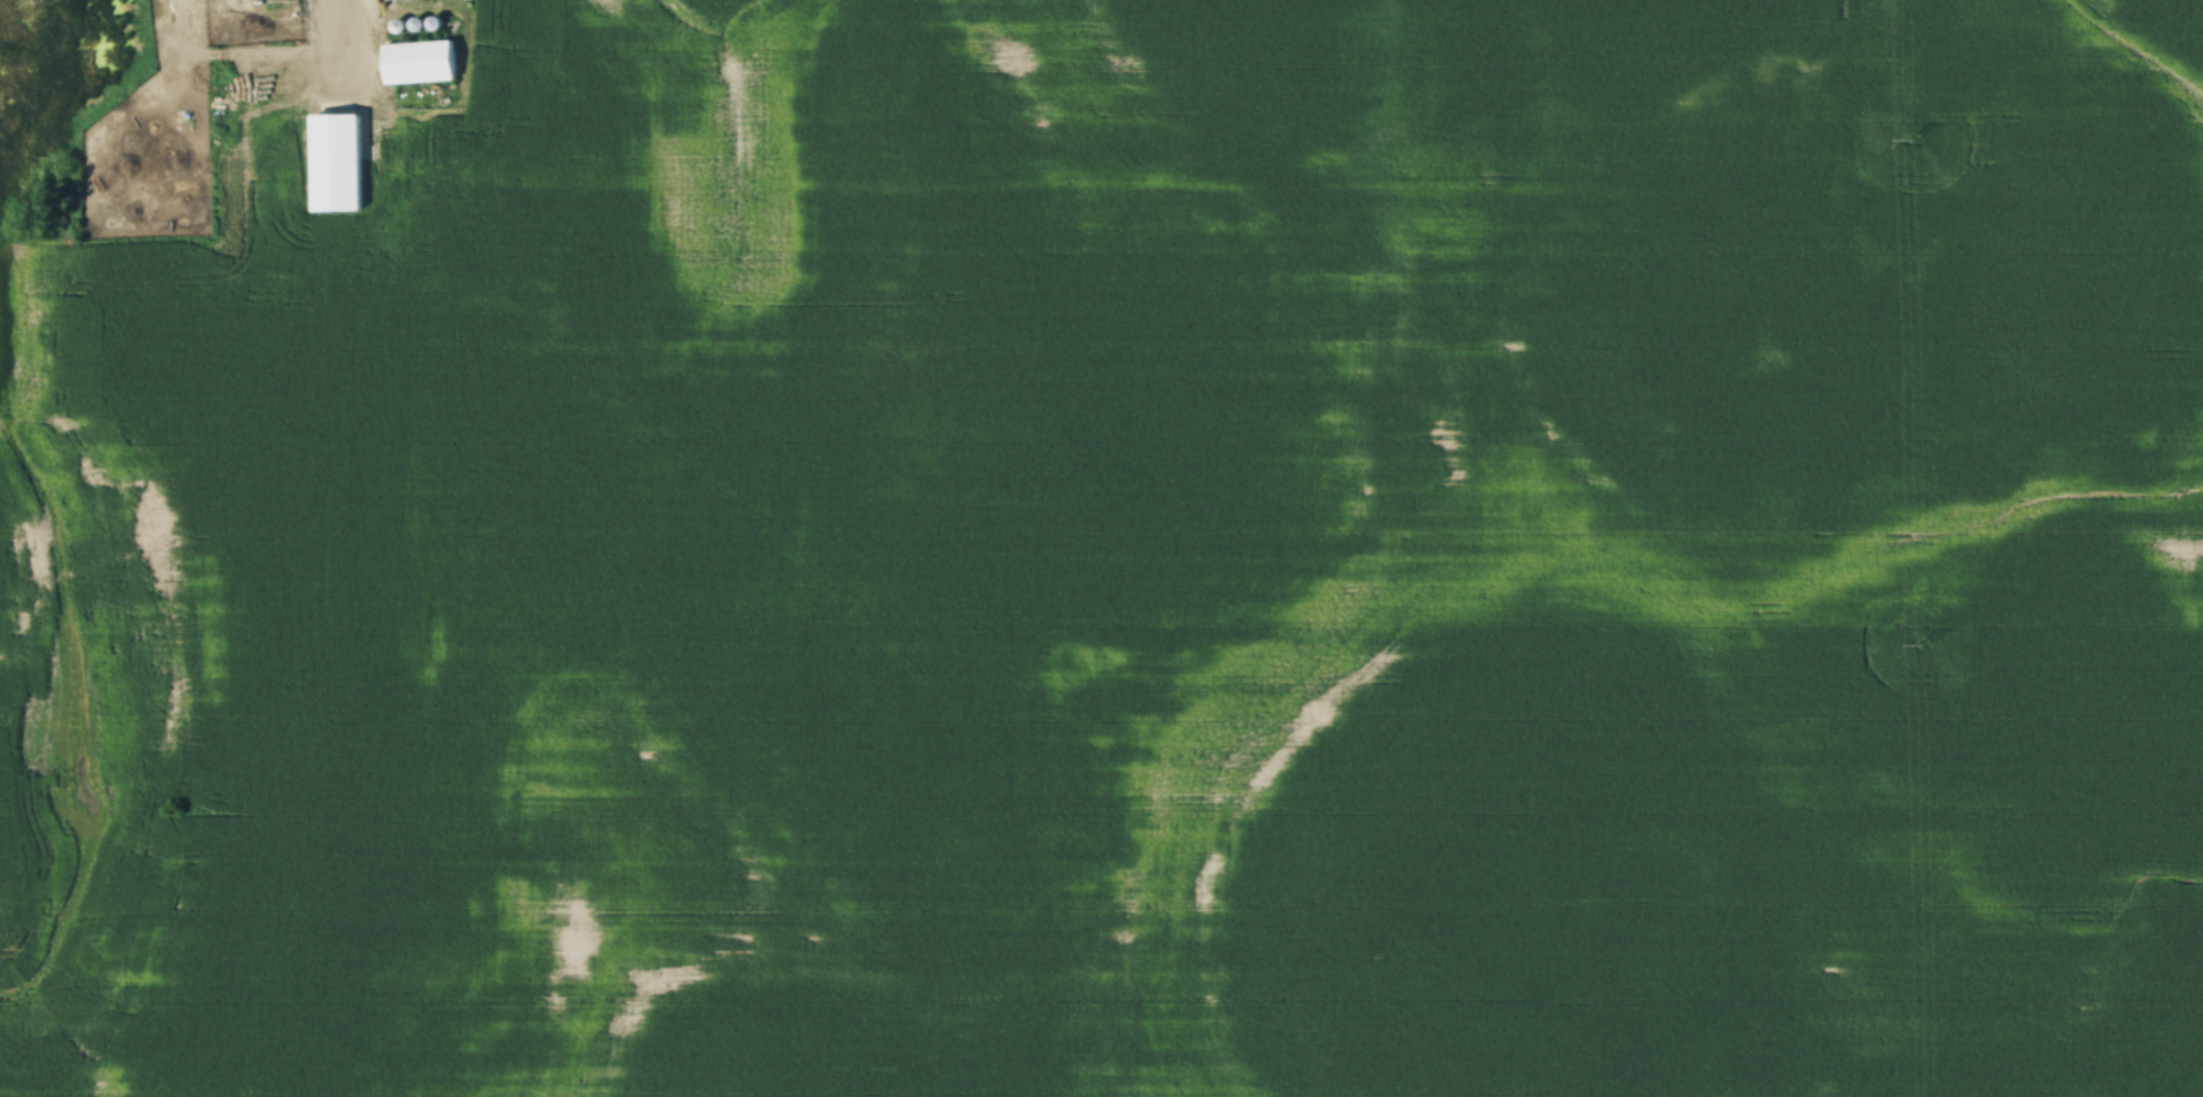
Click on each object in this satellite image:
building: (483, 9)
building: (419, 62)
power tower: (1915, 139)
power tower: (1926, 644)

